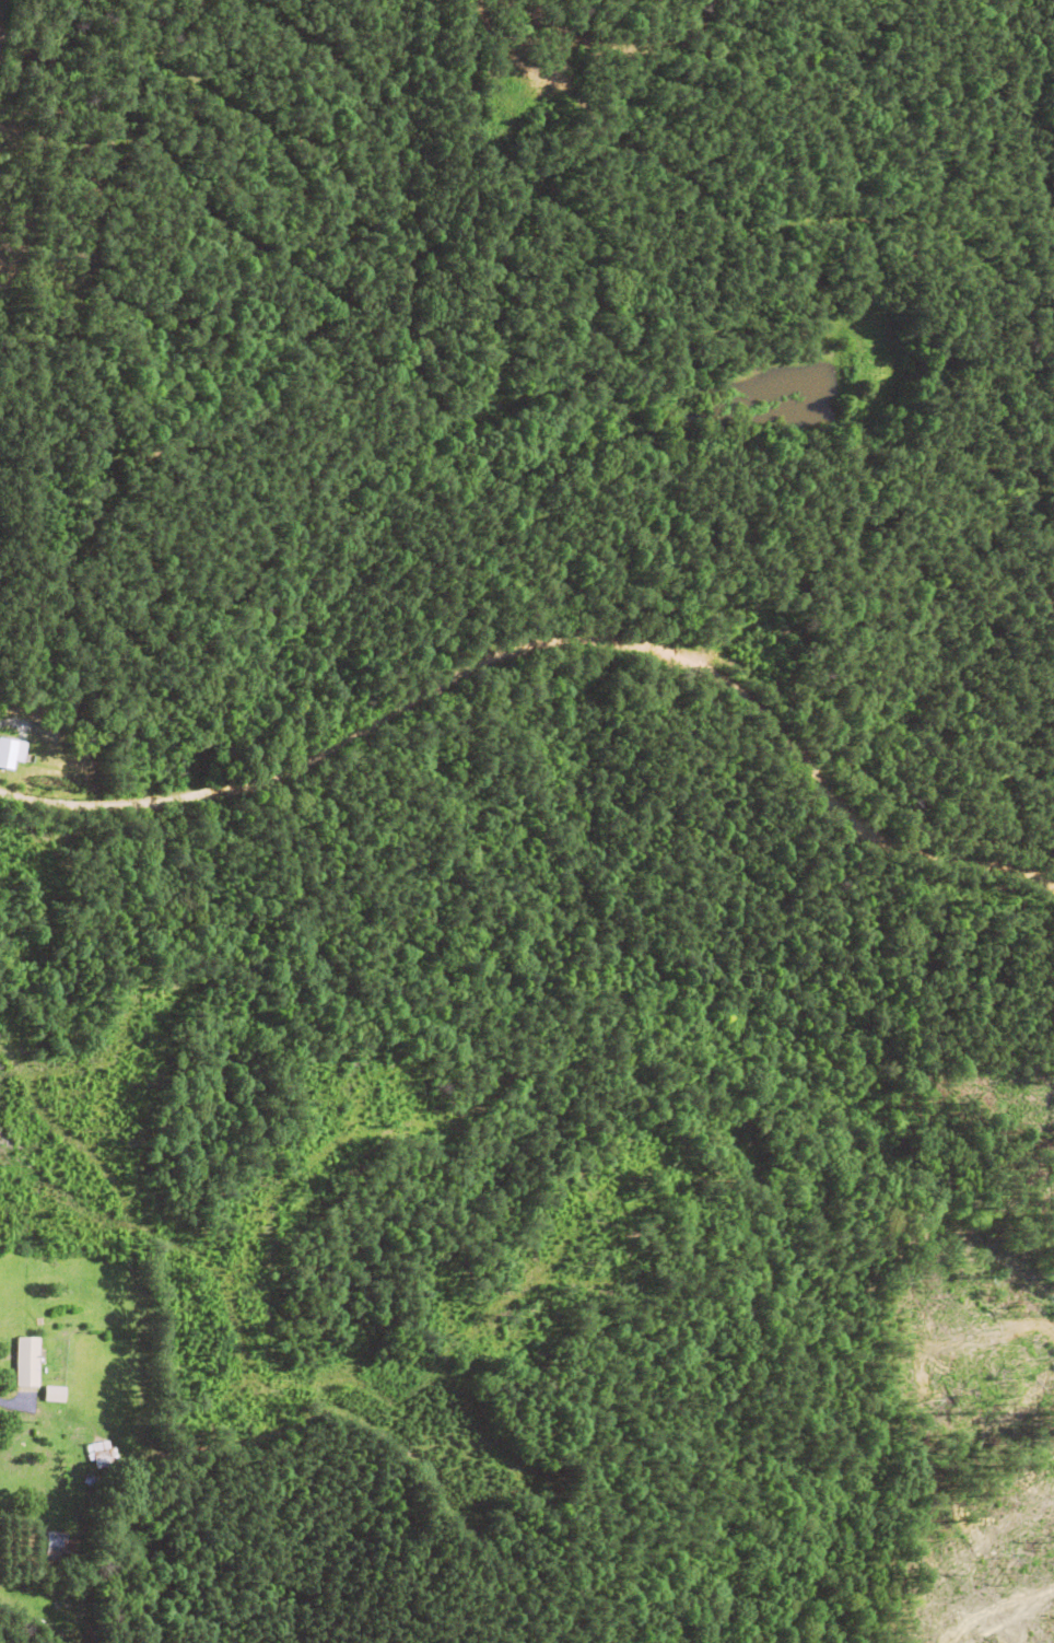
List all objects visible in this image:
road: (549, 691)
building: (11, 754)
building: (26, 1362)
building: (54, 1395)
building: (102, 1454)
building: (54, 1545)

